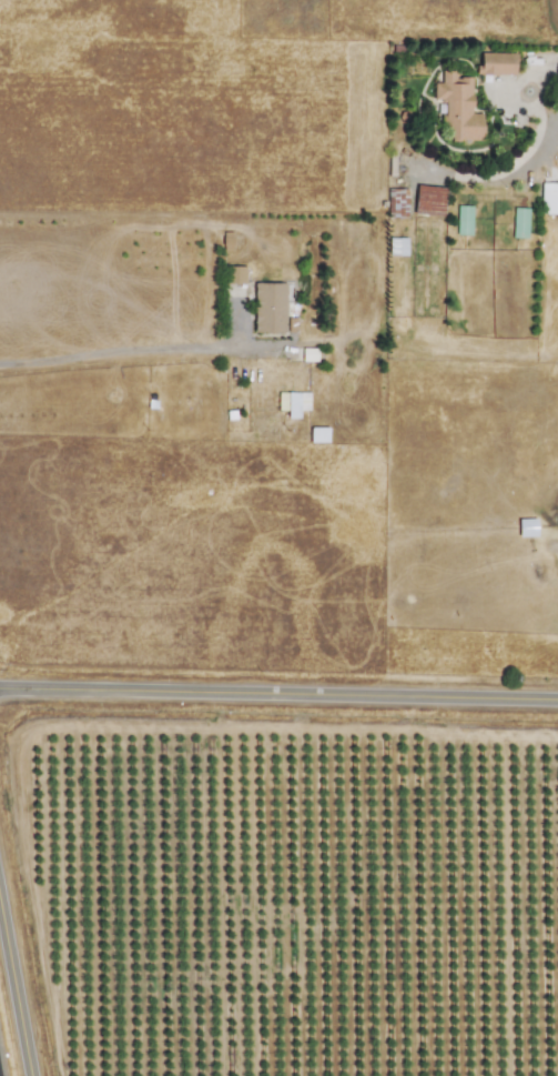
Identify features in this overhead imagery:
building: (495, 62)
road: (549, 69)
road: (516, 105)
building: (457, 107)
building: (548, 198)
building: (427, 200)
building: (396, 201)
building: (463, 220)
building: (518, 222)
building: (396, 245)
building: (234, 274)
building: (267, 308)
road: (138, 346)
building: (308, 354)
building: (292, 402)
building: (317, 434)
building: (526, 527)
road: (278, 697)
road: (13, 1002)

